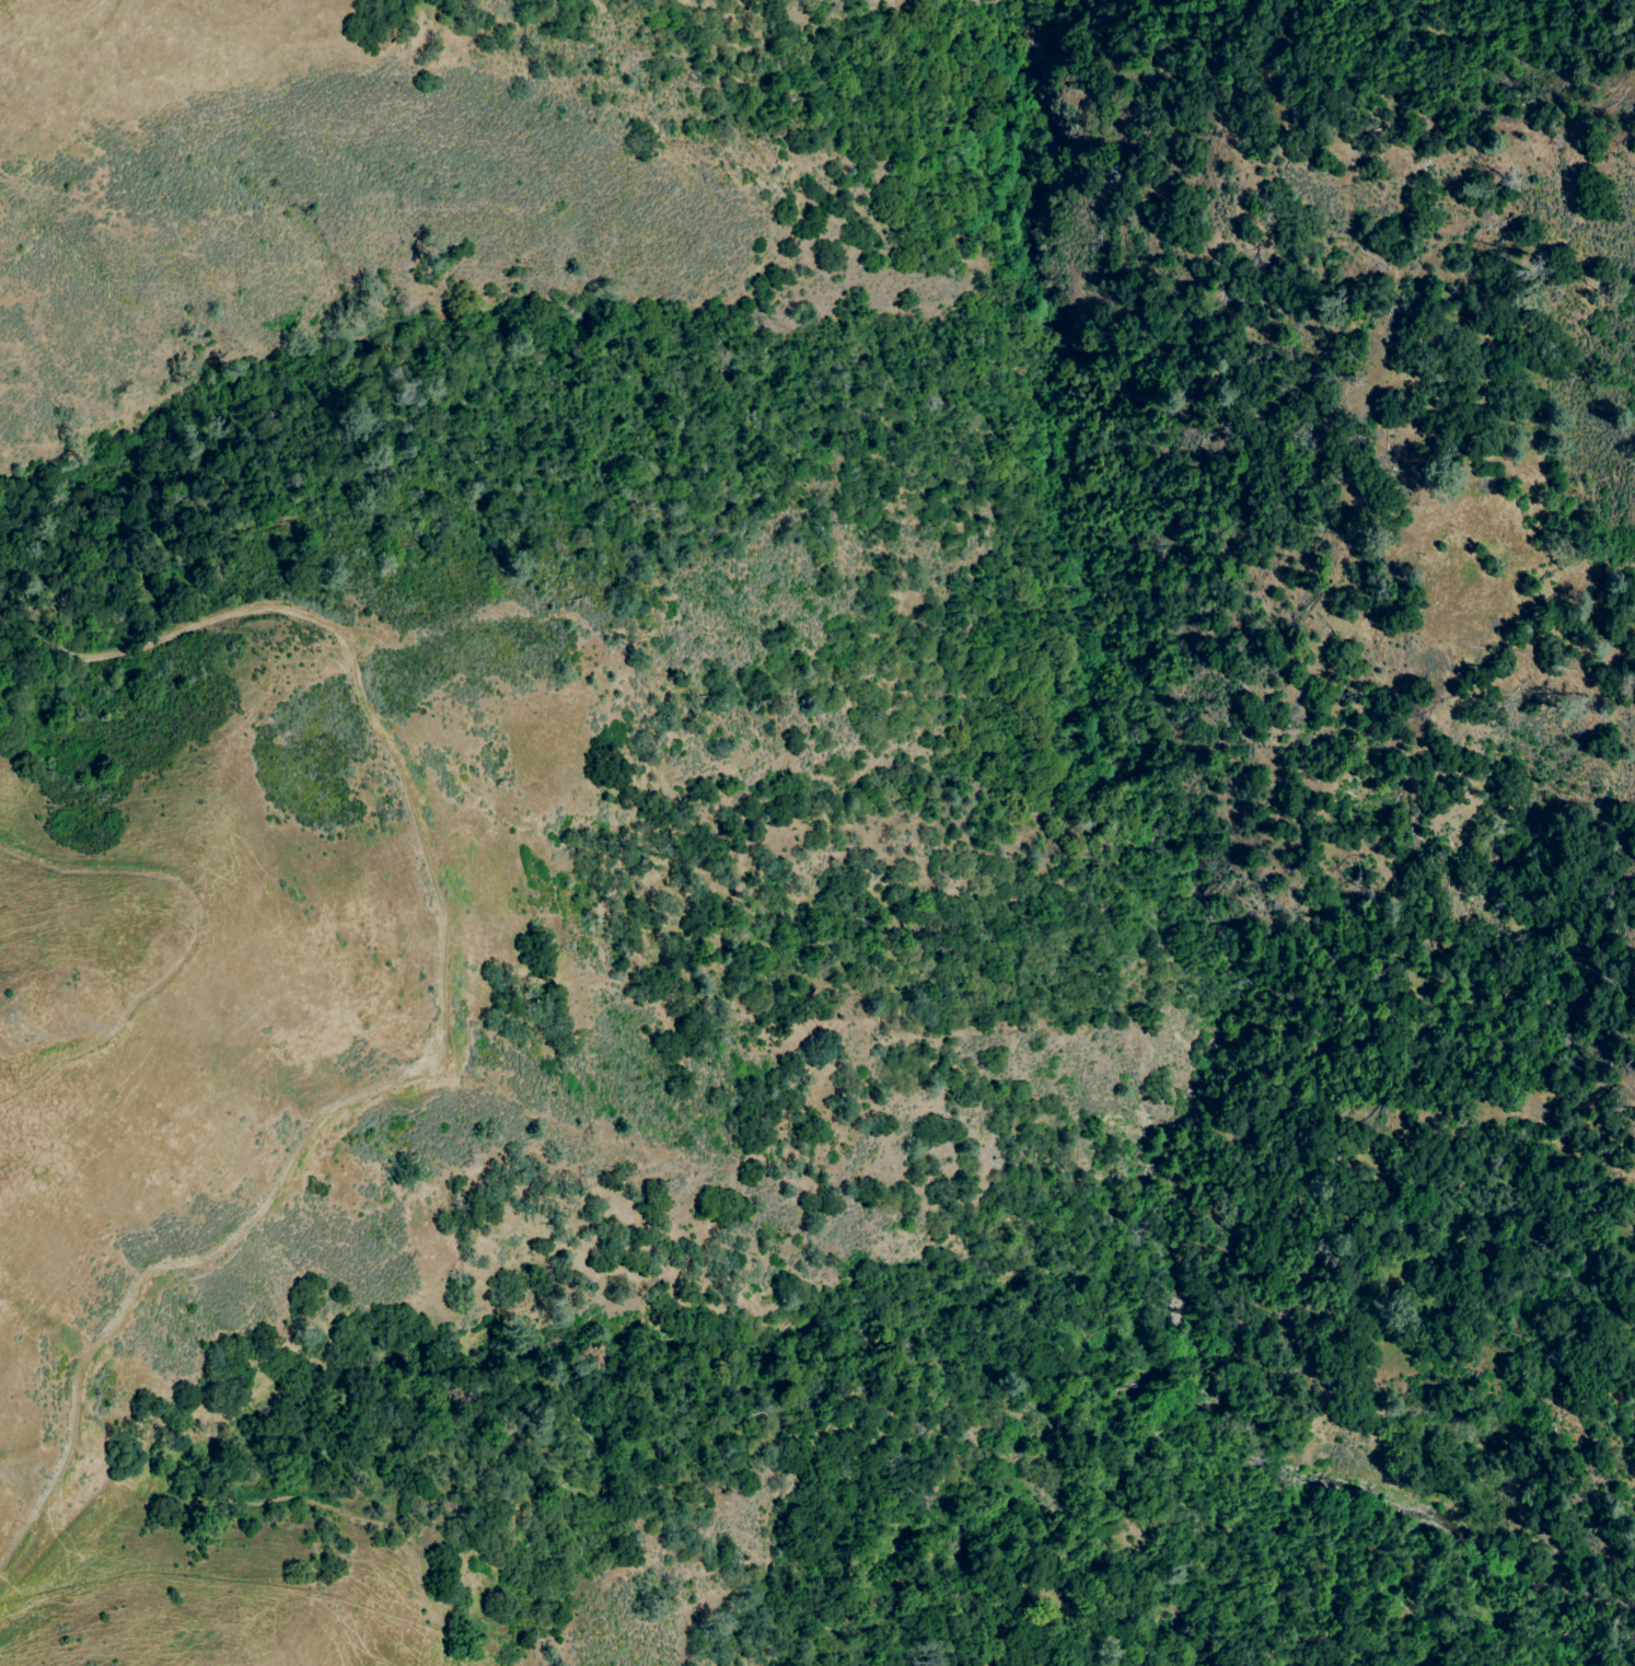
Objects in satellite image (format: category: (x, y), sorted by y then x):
park: (777, 109)

